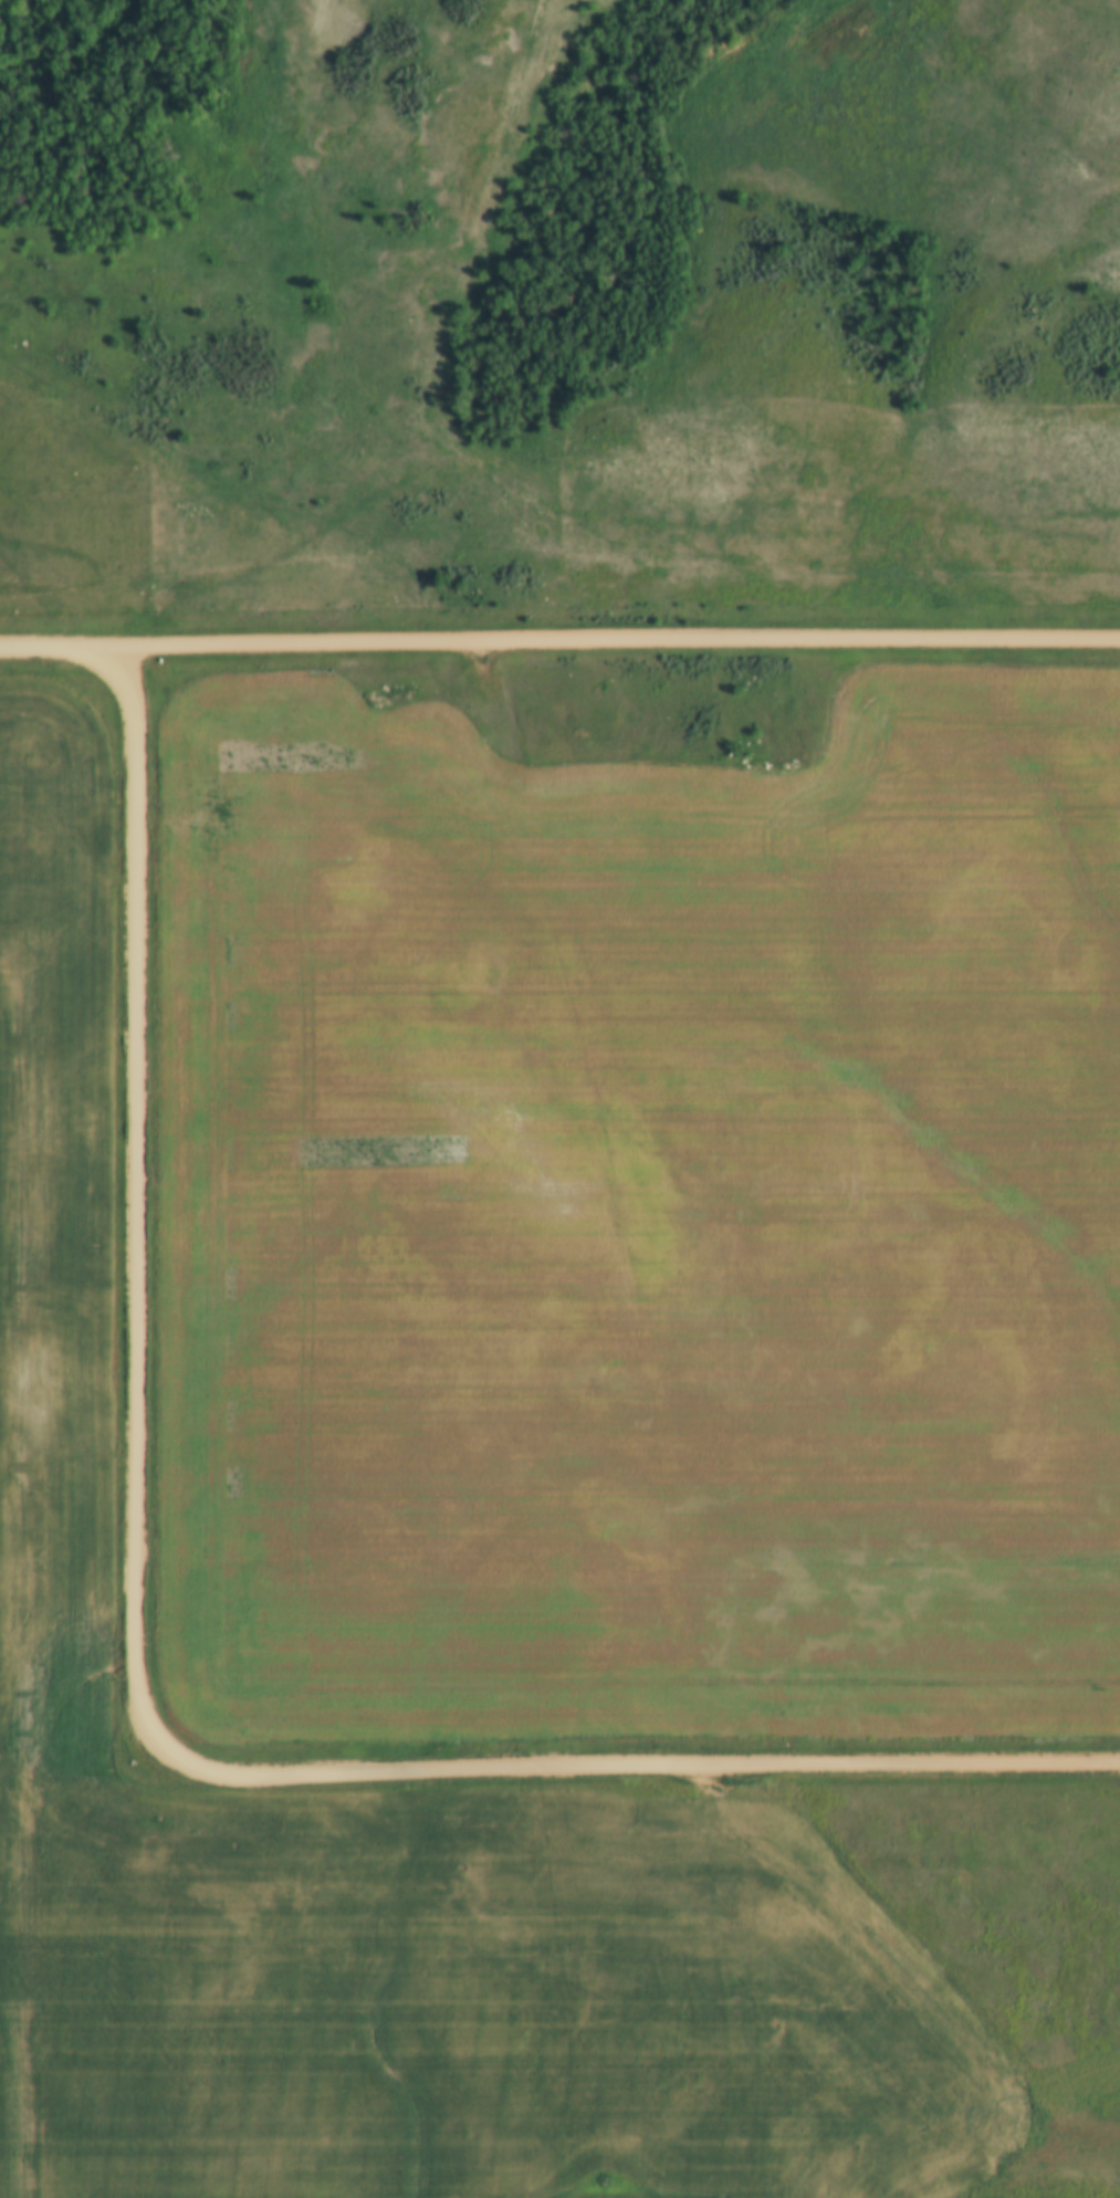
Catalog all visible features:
road: (628, 646)
road: (67, 651)
road: (137, 1686)

